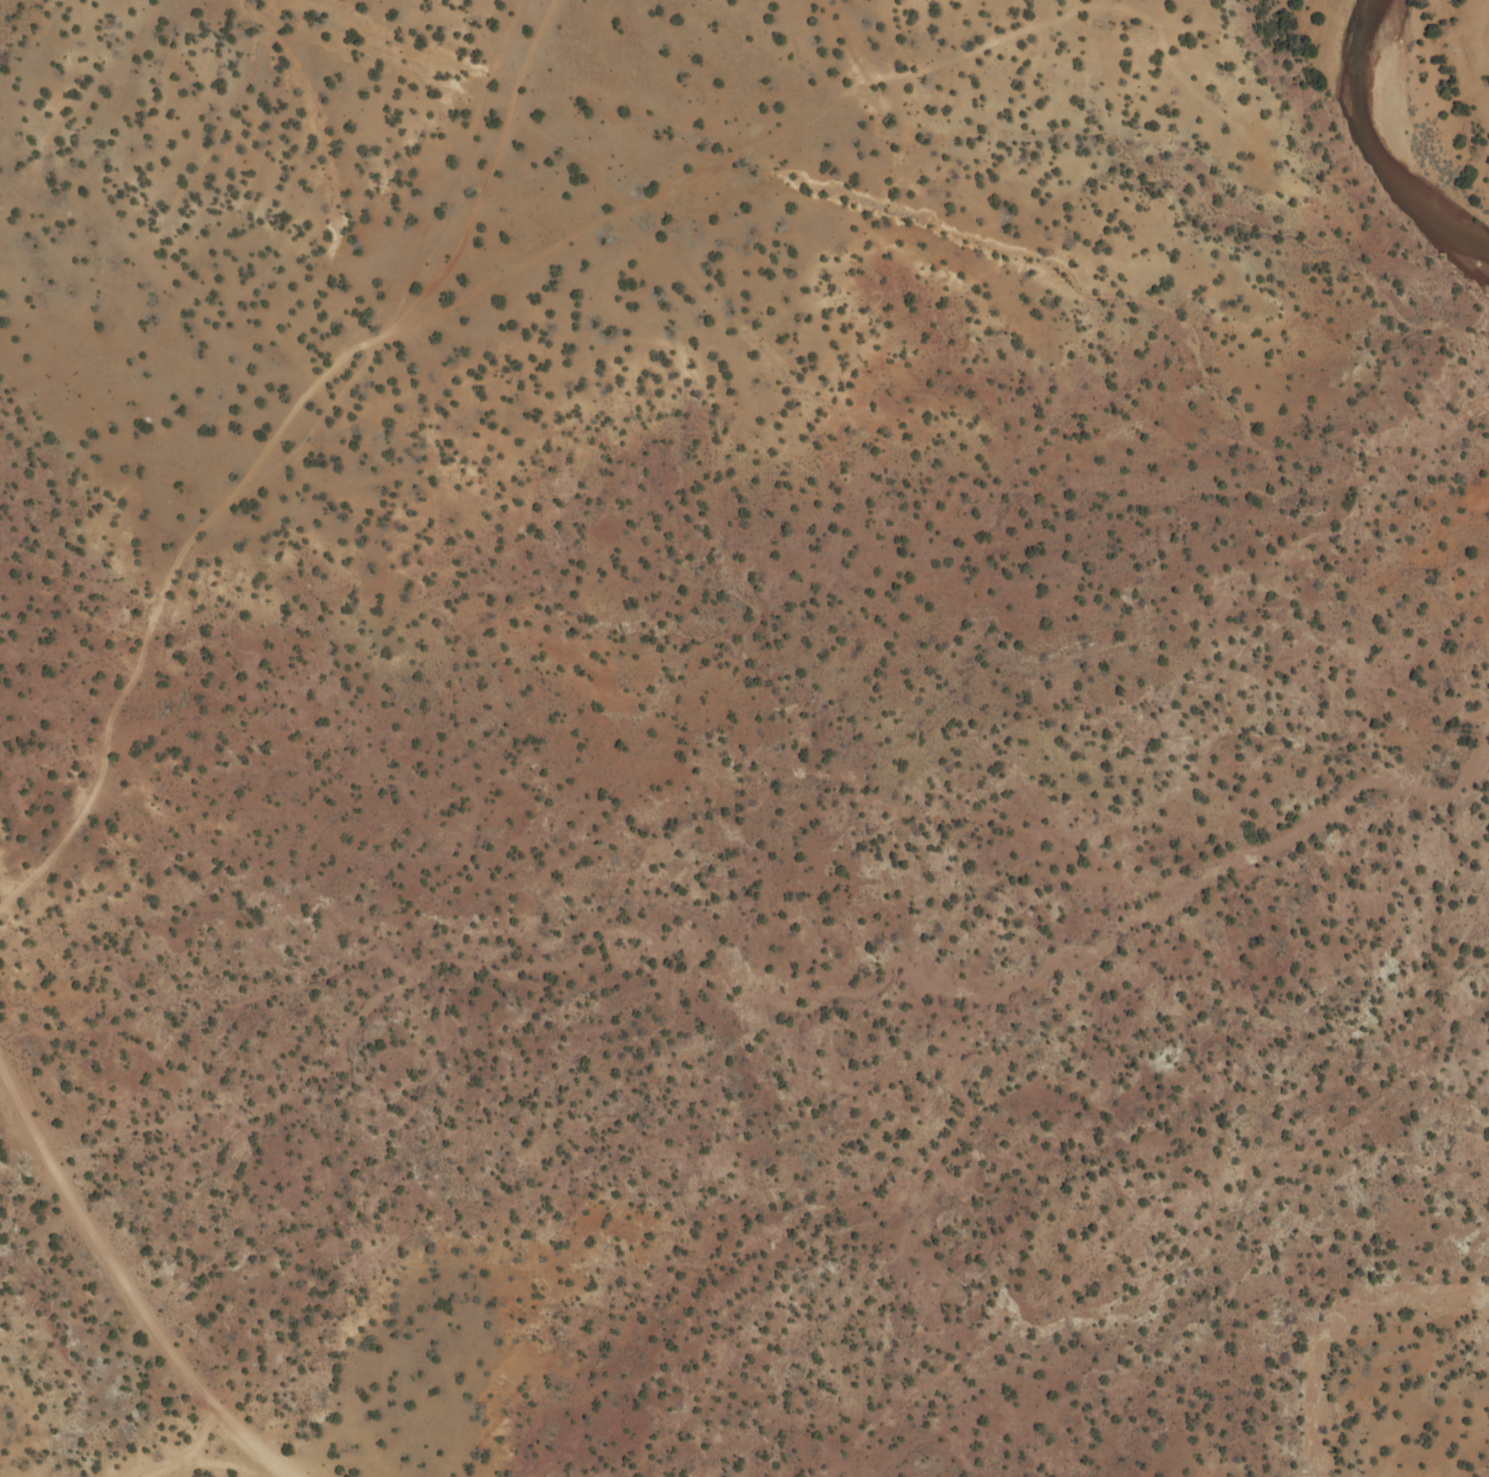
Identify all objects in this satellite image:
river: (1377, 146)
road: (286, 439)
road: (161, 1271)
road: (129, 1454)

